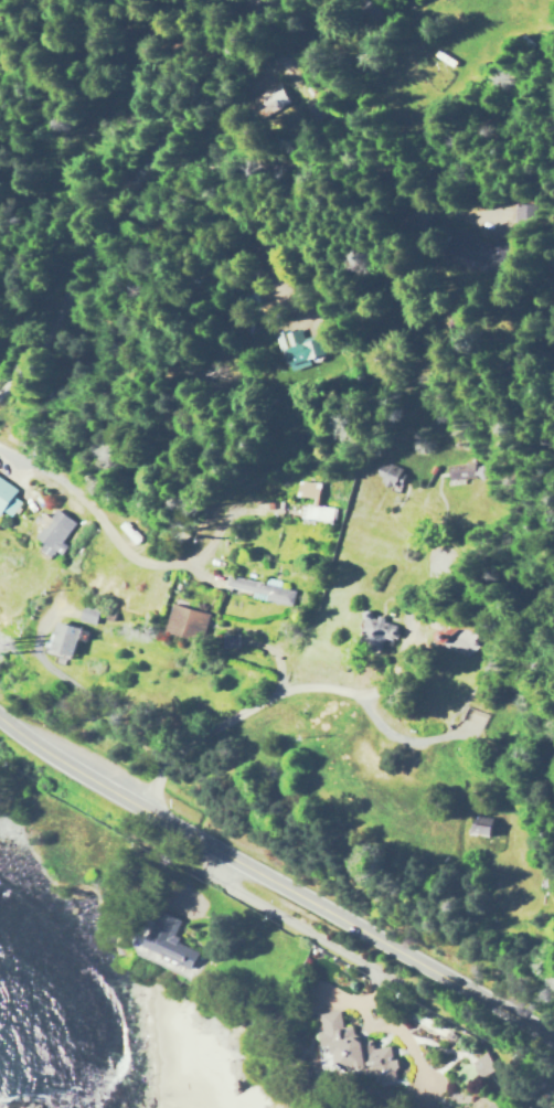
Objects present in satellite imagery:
road: (131, 182)
building: (300, 350)
building: (8, 498)
building: (313, 501)
building: (56, 532)
building: (260, 589)
building: (88, 614)
building: (187, 622)
building: (67, 639)
road: (369, 699)
road: (113, 707)
road: (239, 714)
road: (275, 880)
building: (173, 950)
building: (358, 1047)
building: (482, 1065)

